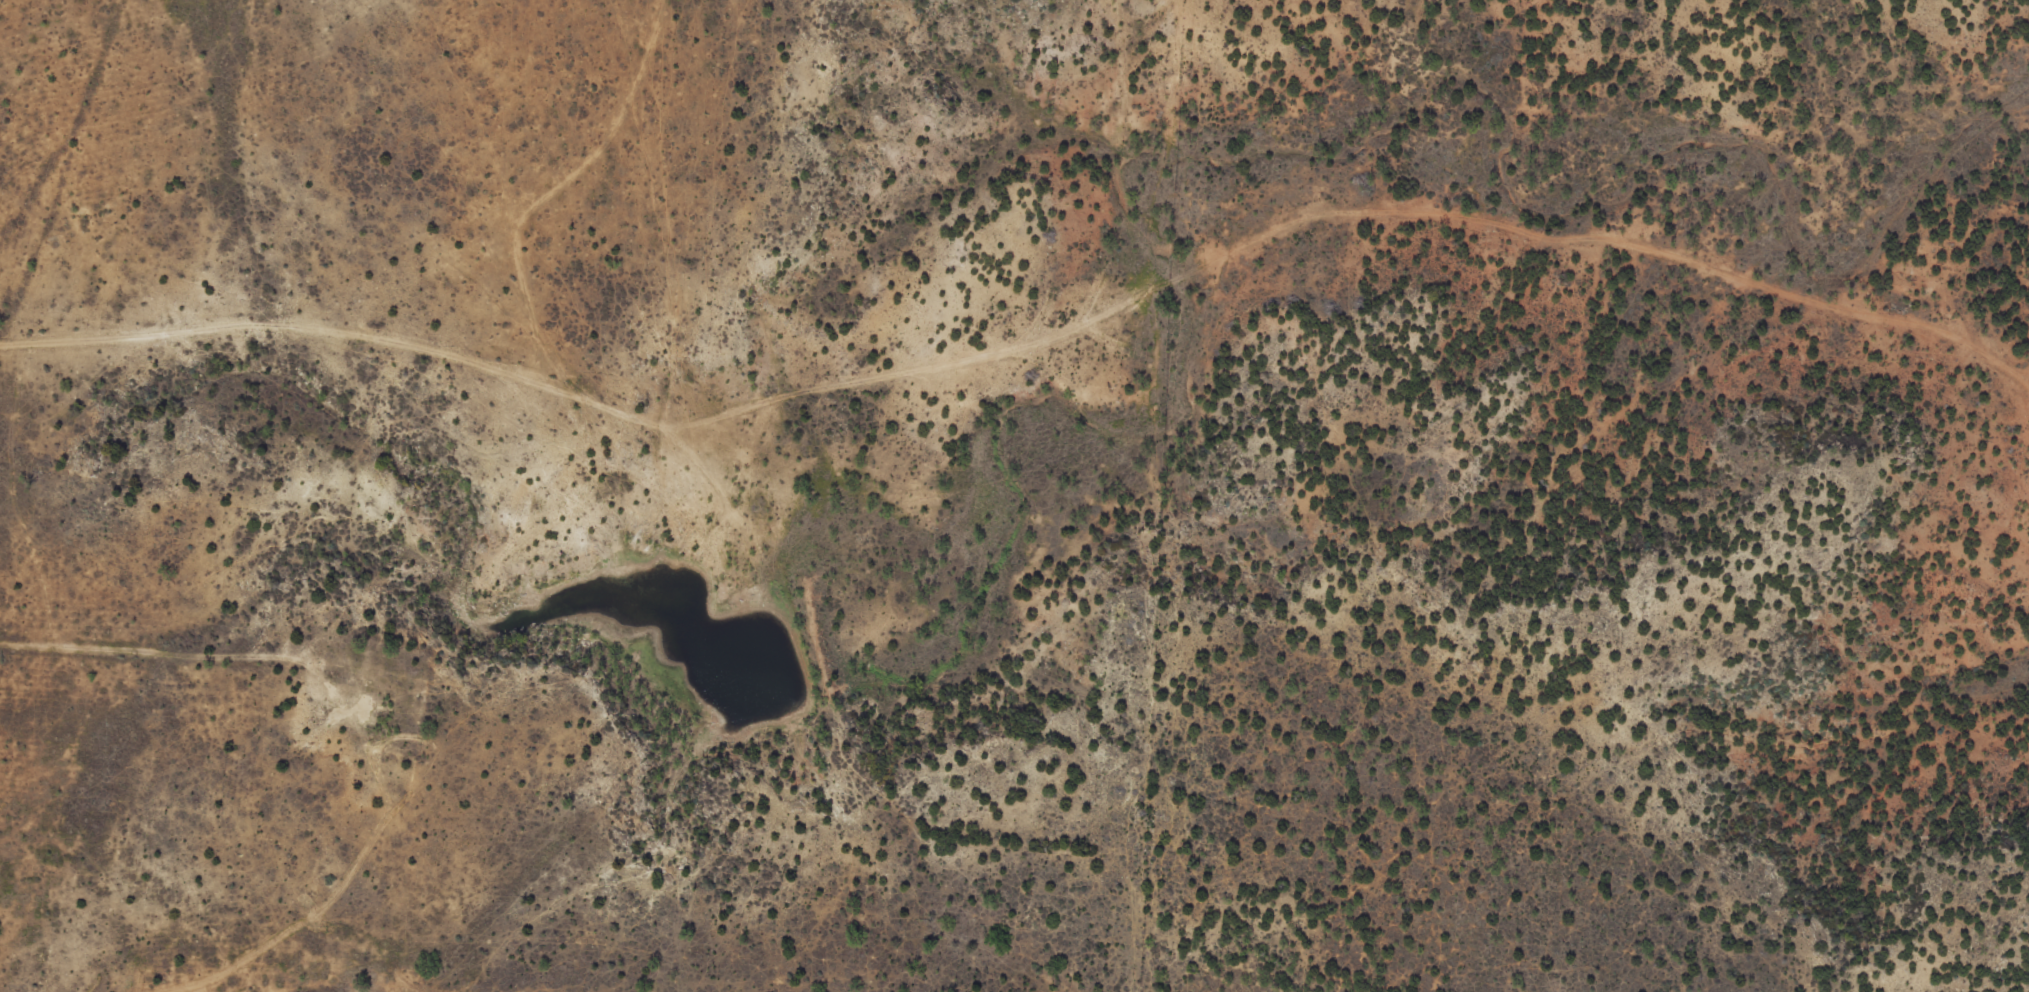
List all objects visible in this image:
road: (194, 660)

